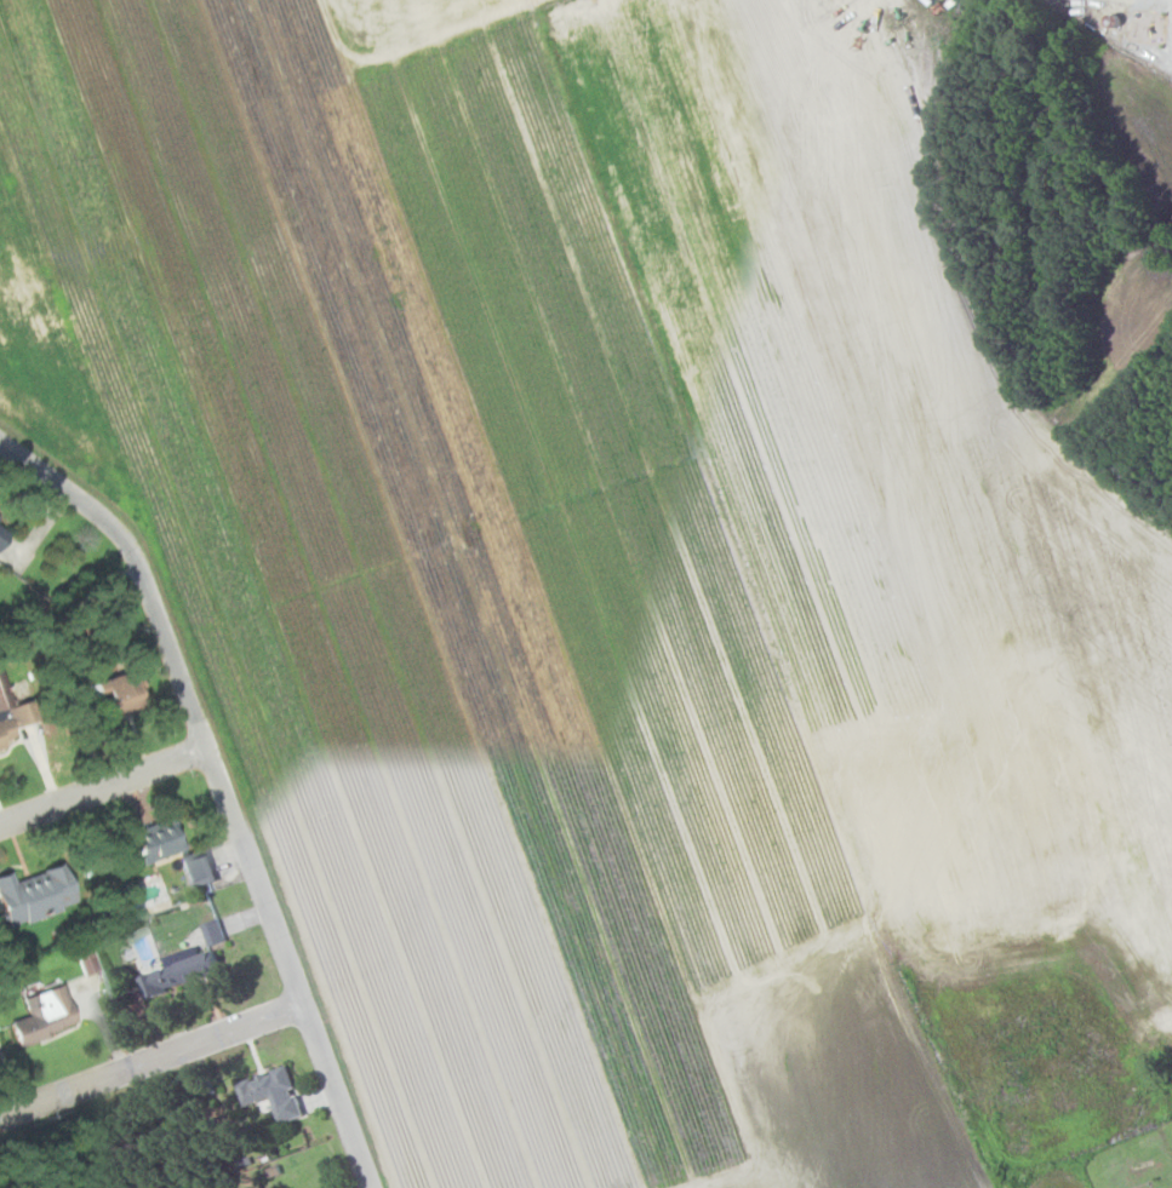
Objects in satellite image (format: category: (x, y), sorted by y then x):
building: (1, 534)
building: (107, 694)
building: (7, 721)
road: (225, 786)
road: (107, 791)
building: (151, 839)
building: (198, 868)
building: (33, 889)
building: (211, 930)
building: (178, 974)
building: (51, 1008)
road: (153, 1066)
building: (270, 1096)

